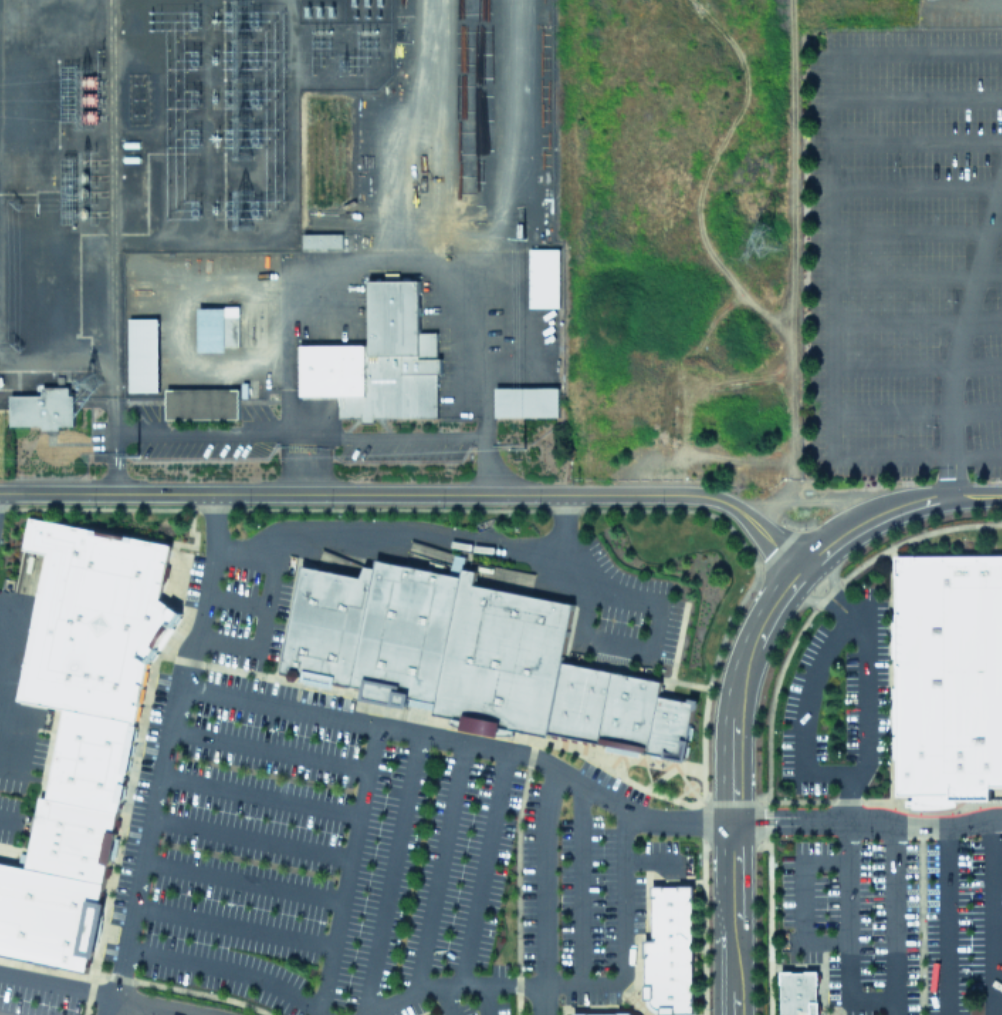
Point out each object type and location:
power tower: (238, 14)
road: (916, 97)
road: (916, 141)
road: (915, 187)
road: (997, 222)
road: (910, 231)
power tower: (522, 236)
power tower: (761, 237)
building: (321, 240)
power substation: (281, 242)
parking lot: (906, 244)
road: (831, 254)
road: (916, 276)
building: (542, 277)
road: (916, 321)
building: (217, 328)
road: (959, 337)
building: (142, 354)
building: (378, 360)
road: (916, 367)
building: (525, 402)
building: (201, 403)
building: (42, 408)
road: (916, 412)
road: (207, 431)
road: (393, 435)
power tower: (523, 442)
power tower: (131, 450)
road: (113, 461)
road: (303, 463)
road: (488, 464)
road: (415, 494)
road: (975, 494)
road: (868, 523)
road: (419, 531)
road: (833, 586)
road: (206, 592)
road: (236, 599)
road: (817, 601)
parking lot: (634, 613)
road: (262, 621)
road: (653, 632)
building: (470, 657)
building: (948, 673)
parking lot: (836, 697)
road: (803, 713)
building: (81, 724)
road: (427, 735)
road: (268, 747)
parking lot: (16, 772)
road: (734, 786)
road: (258, 794)
road: (9, 819)
road: (847, 821)
road: (250, 838)
parking lot: (345, 856)
road: (650, 856)
road: (440, 867)
road: (481, 868)
road: (346, 870)
road: (392, 874)
road: (242, 879)
road: (579, 883)
road: (545, 893)
road: (803, 900)
road: (990, 917)
road: (893, 921)
parking lot: (899, 922)
road: (948, 922)
road: (233, 925)
road: (620, 933)
building: (668, 949)
road: (227, 968)
road: (58, 982)
road: (451, 985)
building: (798, 993)
road: (487, 999)
road: (447, 1000)
road: (156, 1009)
building: (601, 1014)

